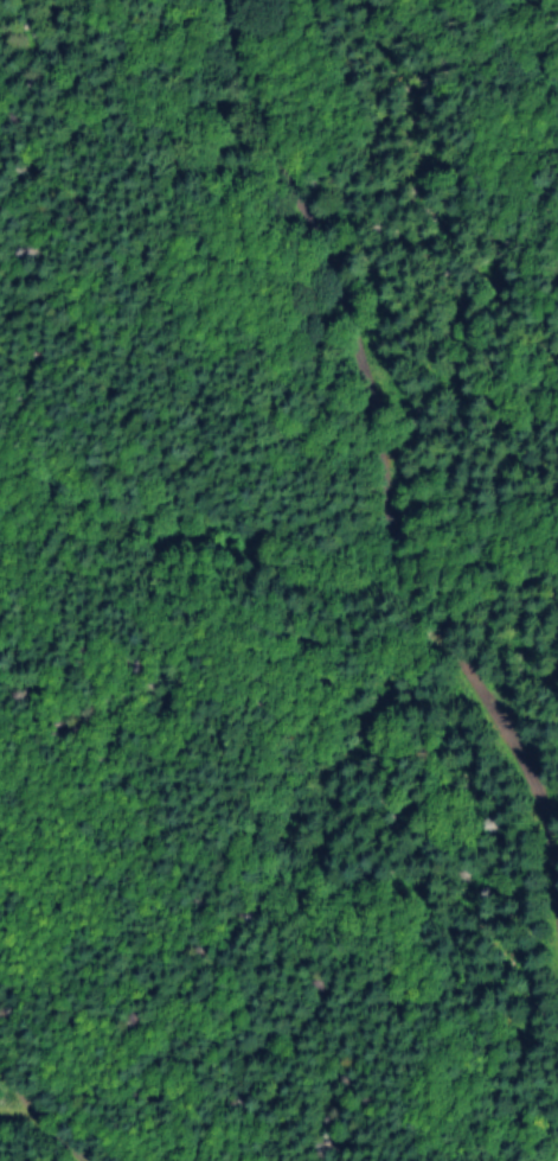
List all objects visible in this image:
road: (395, 598)

